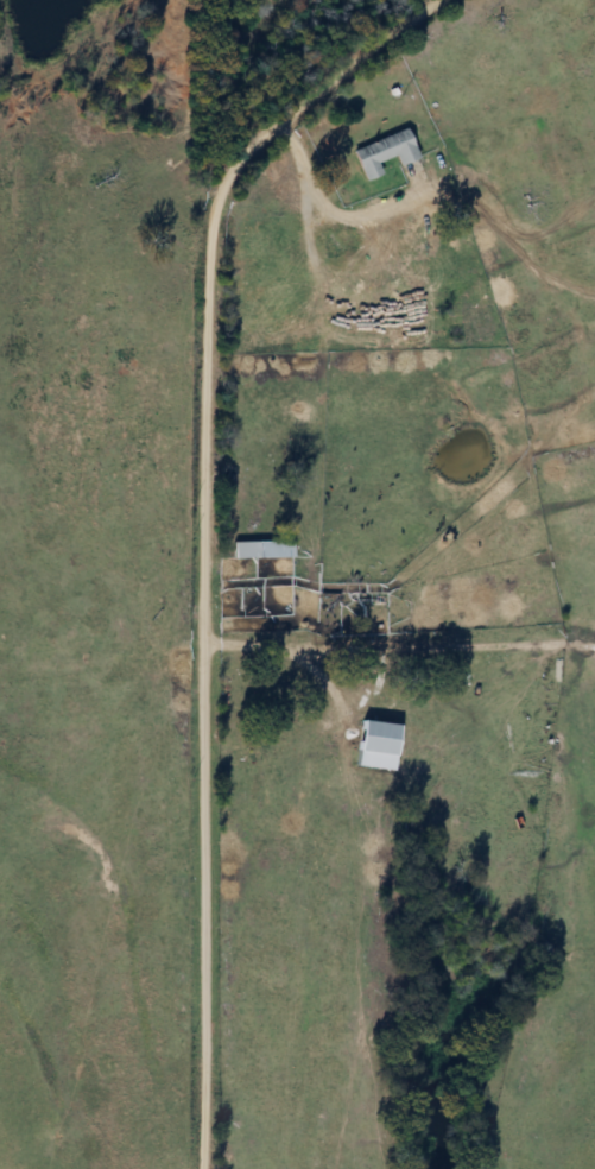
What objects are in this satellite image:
building: (382, 154)
road: (208, 527)
building: (247, 550)
building: (374, 739)

